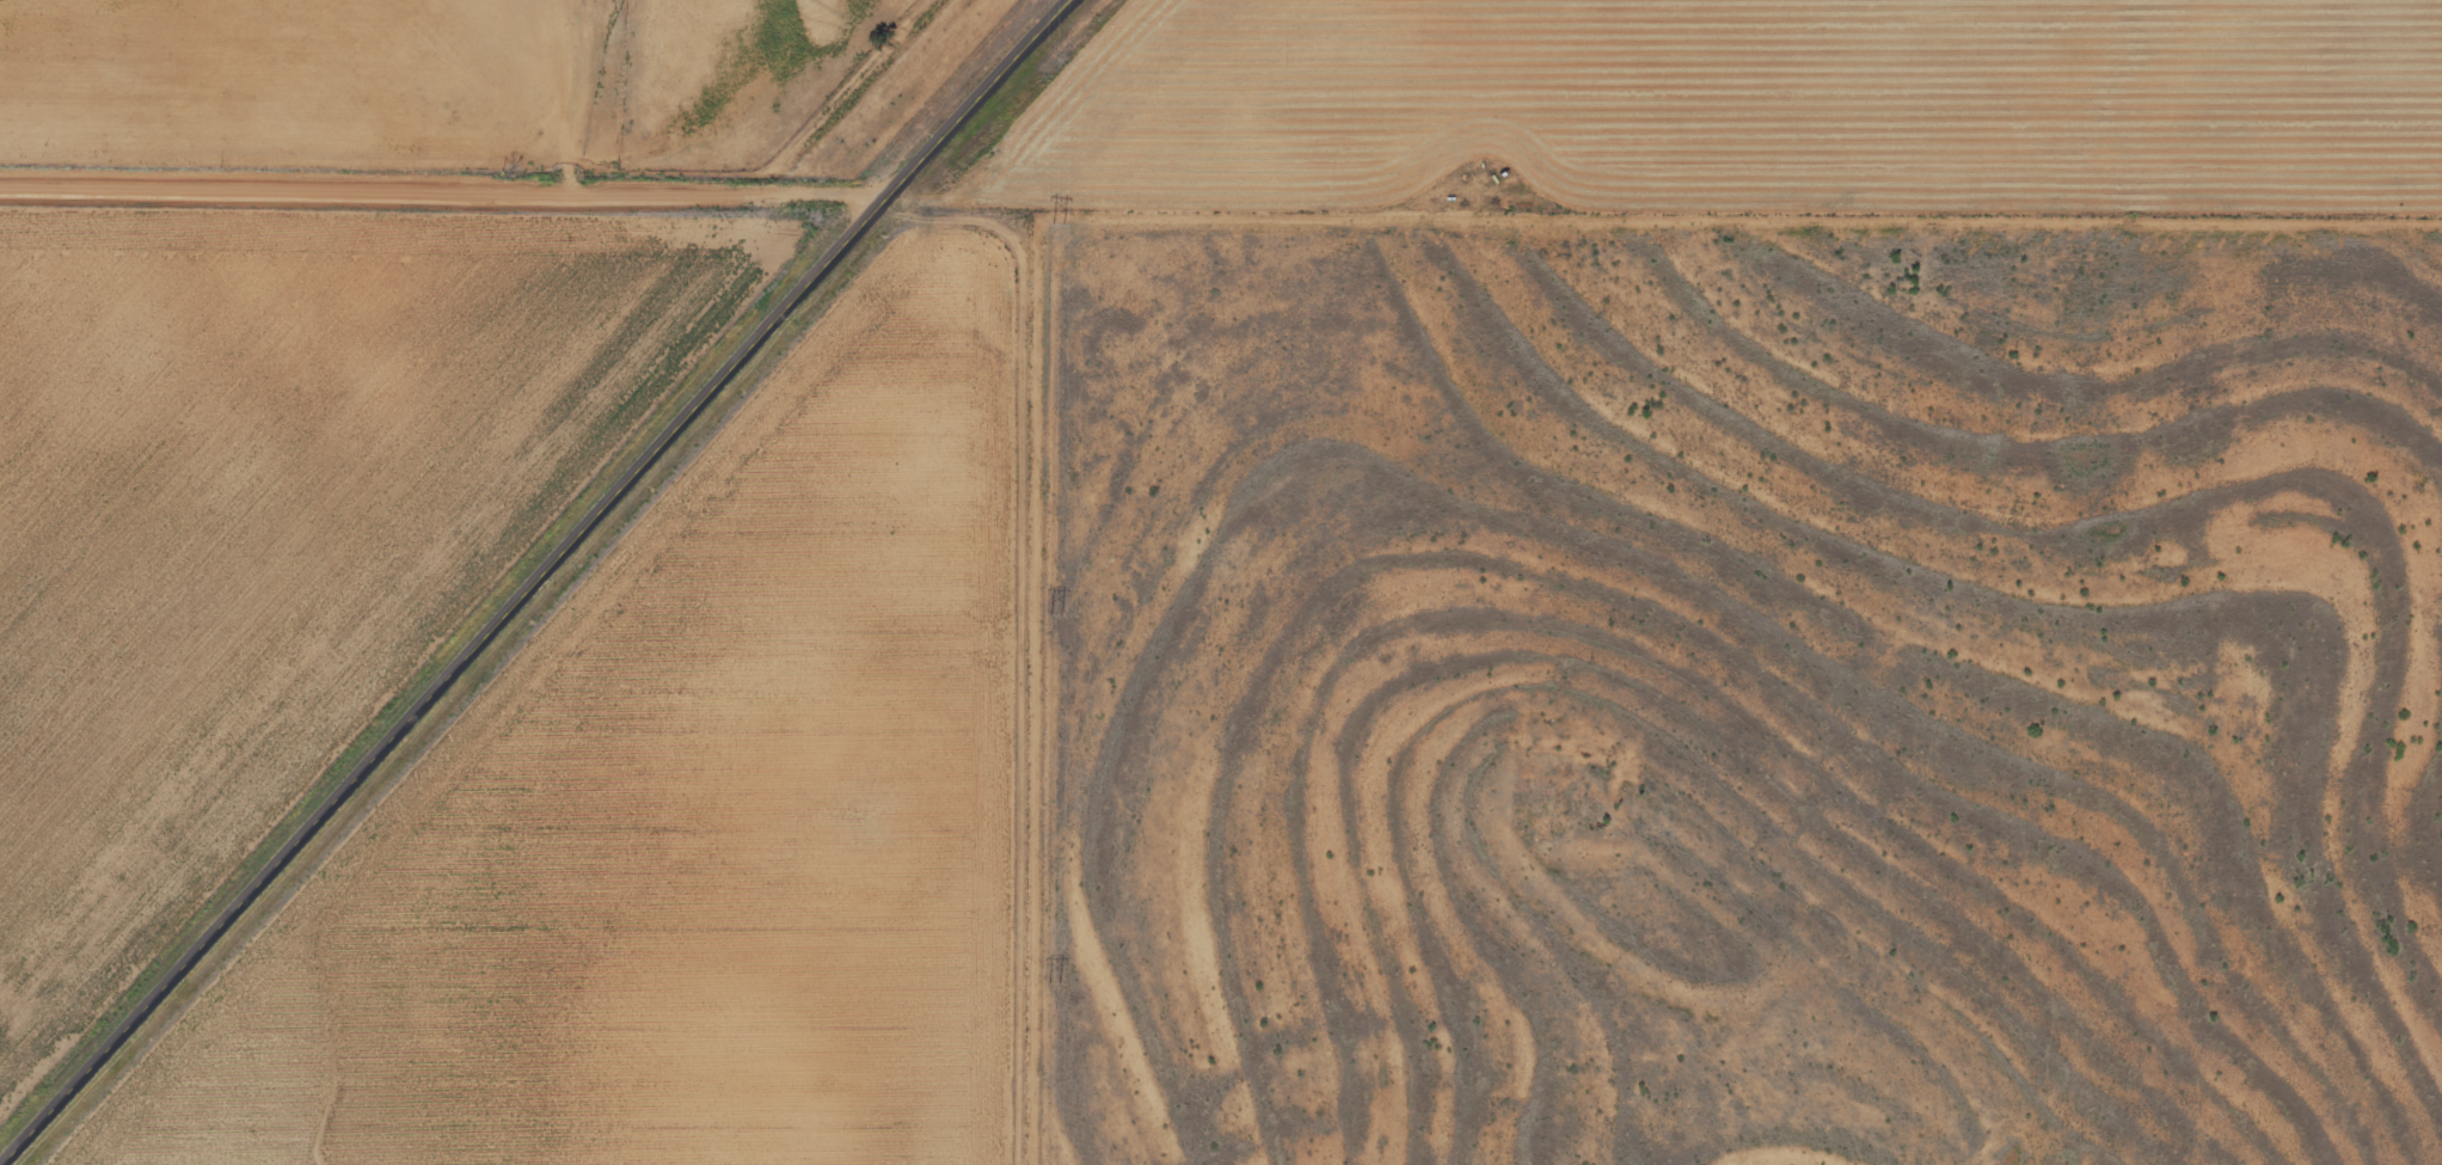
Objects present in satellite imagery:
road: (442, 188)
power tower: (1057, 222)
railway: (504, 554)
road: (544, 581)
power tower: (1056, 613)
power tower: (1053, 985)

